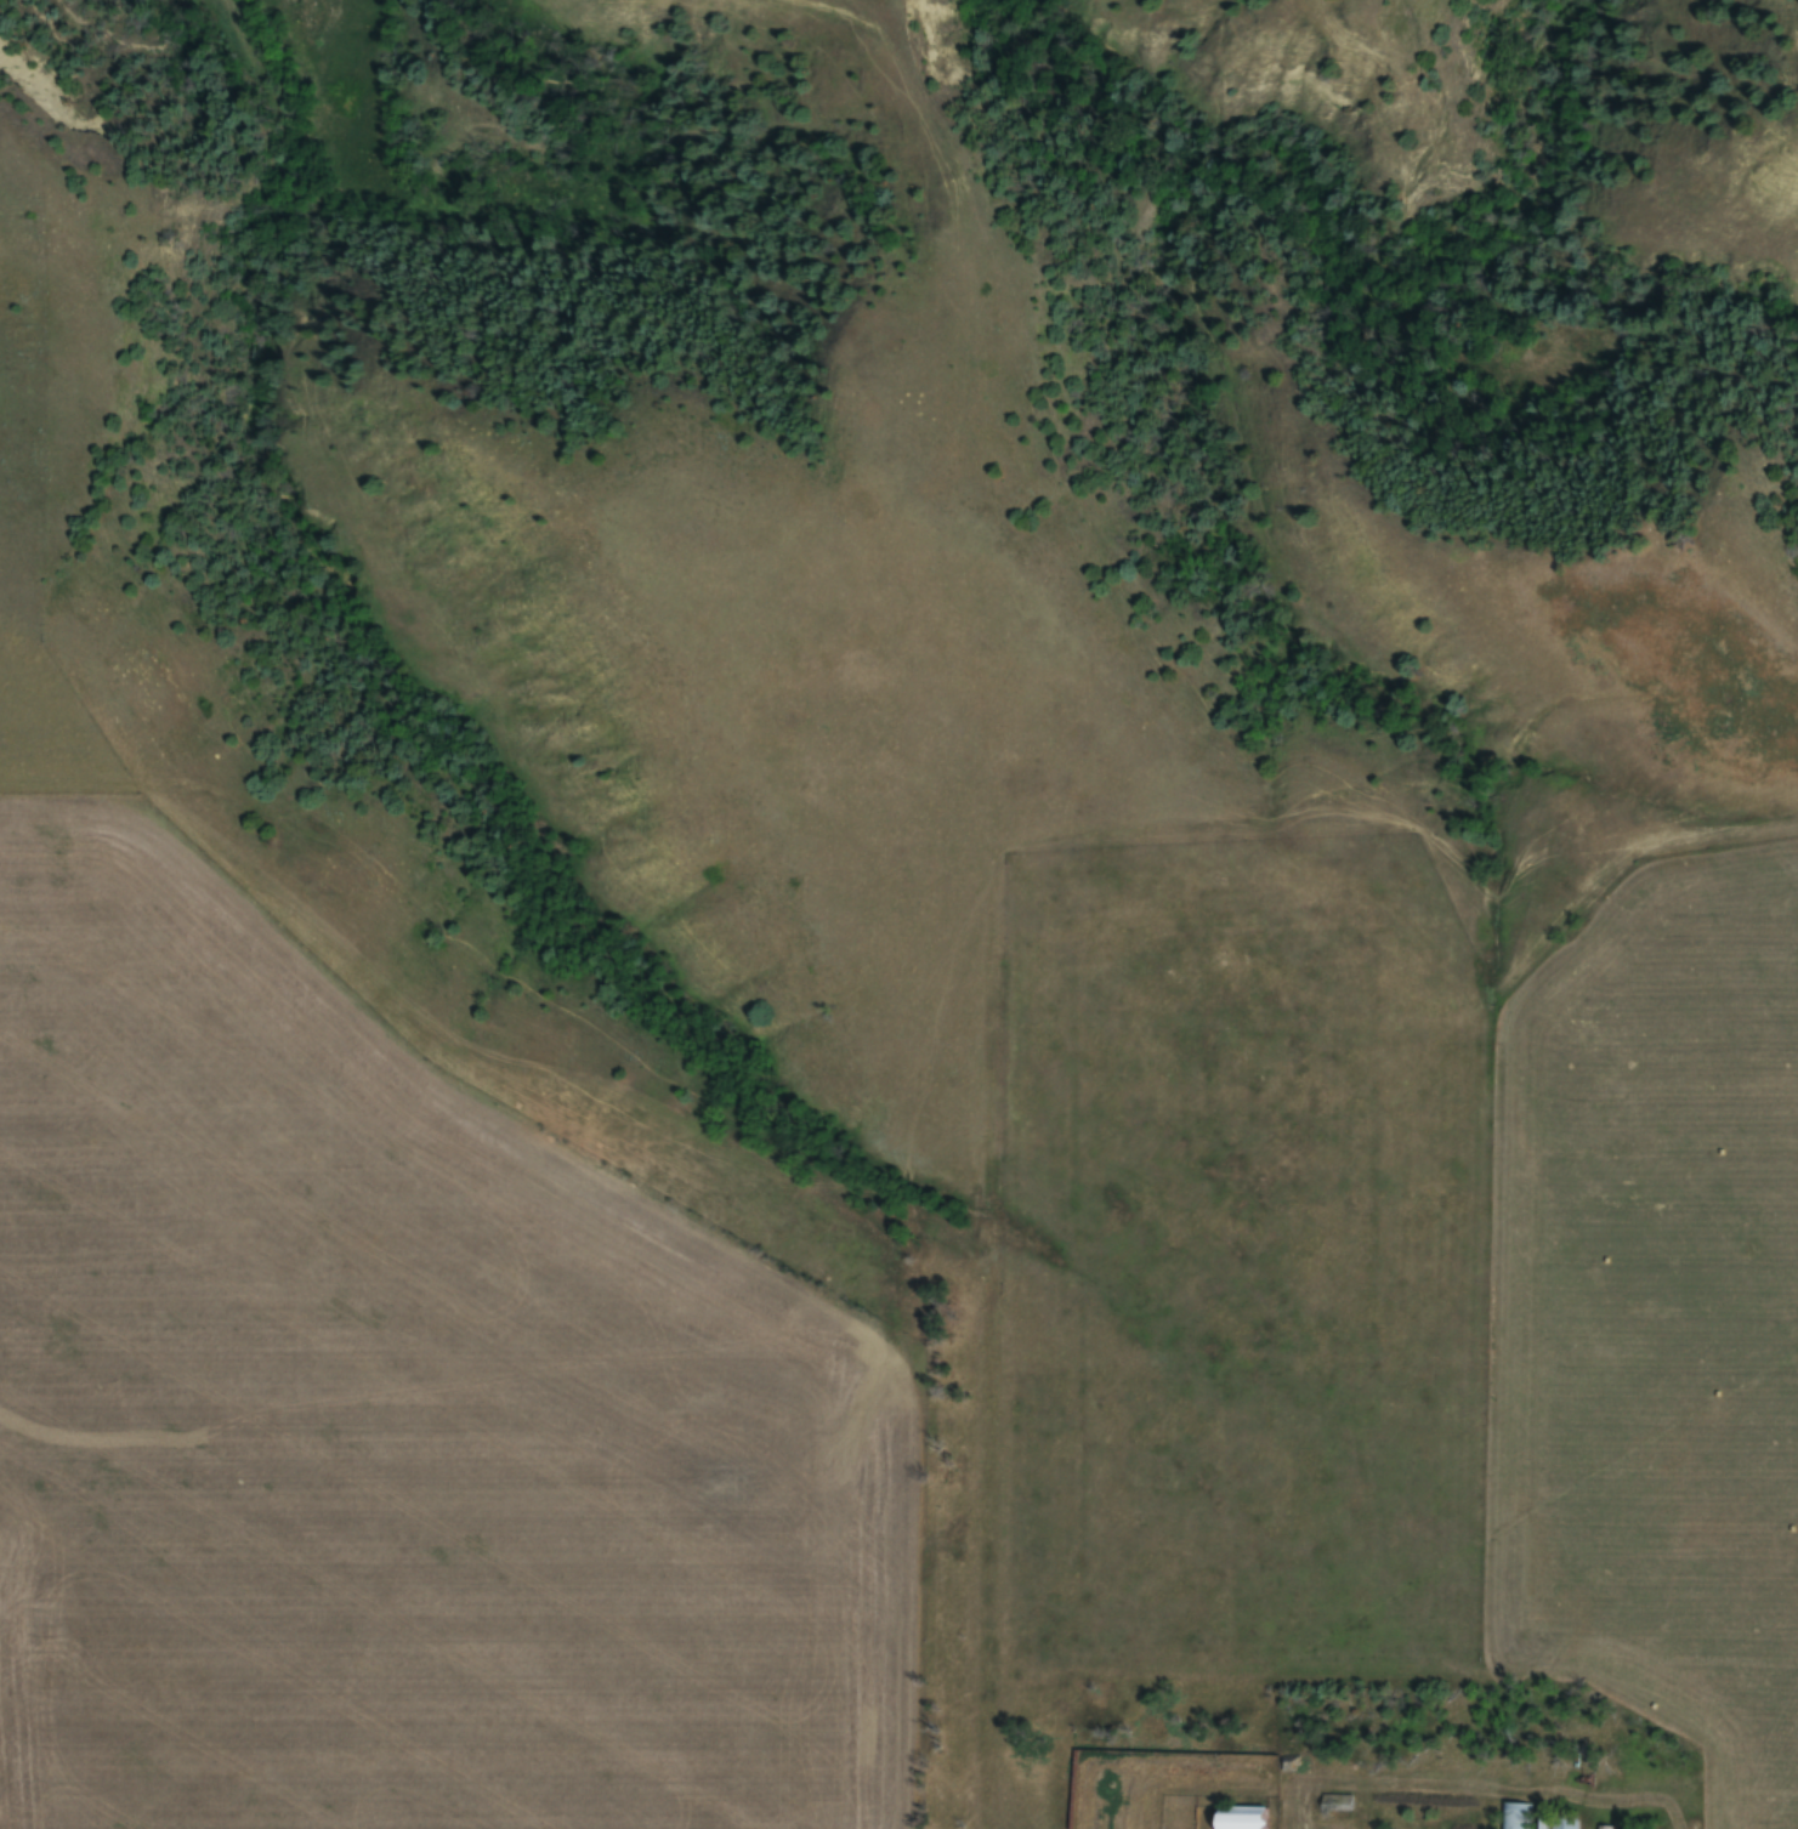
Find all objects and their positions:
building: (1241, 1817)
building: (1556, 1819)
building: (1605, 1827)

